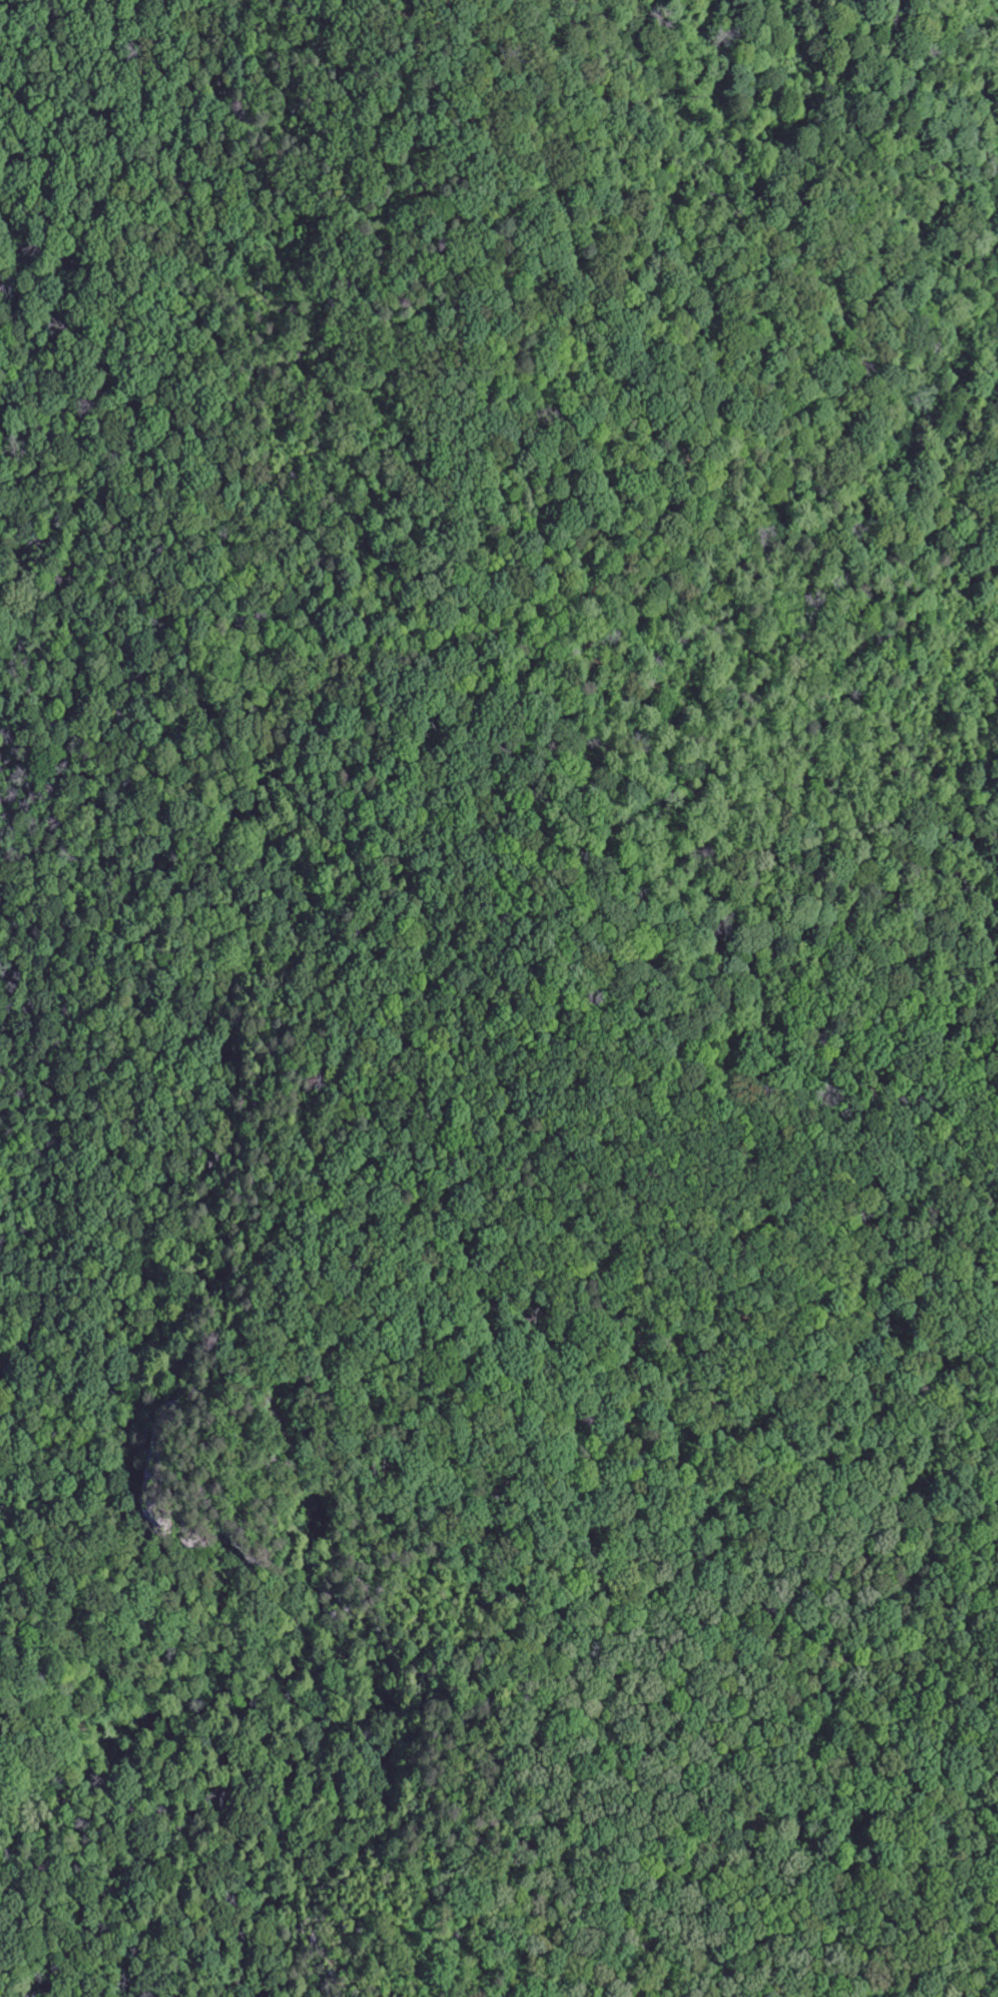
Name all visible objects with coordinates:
road: (395, 1225)

